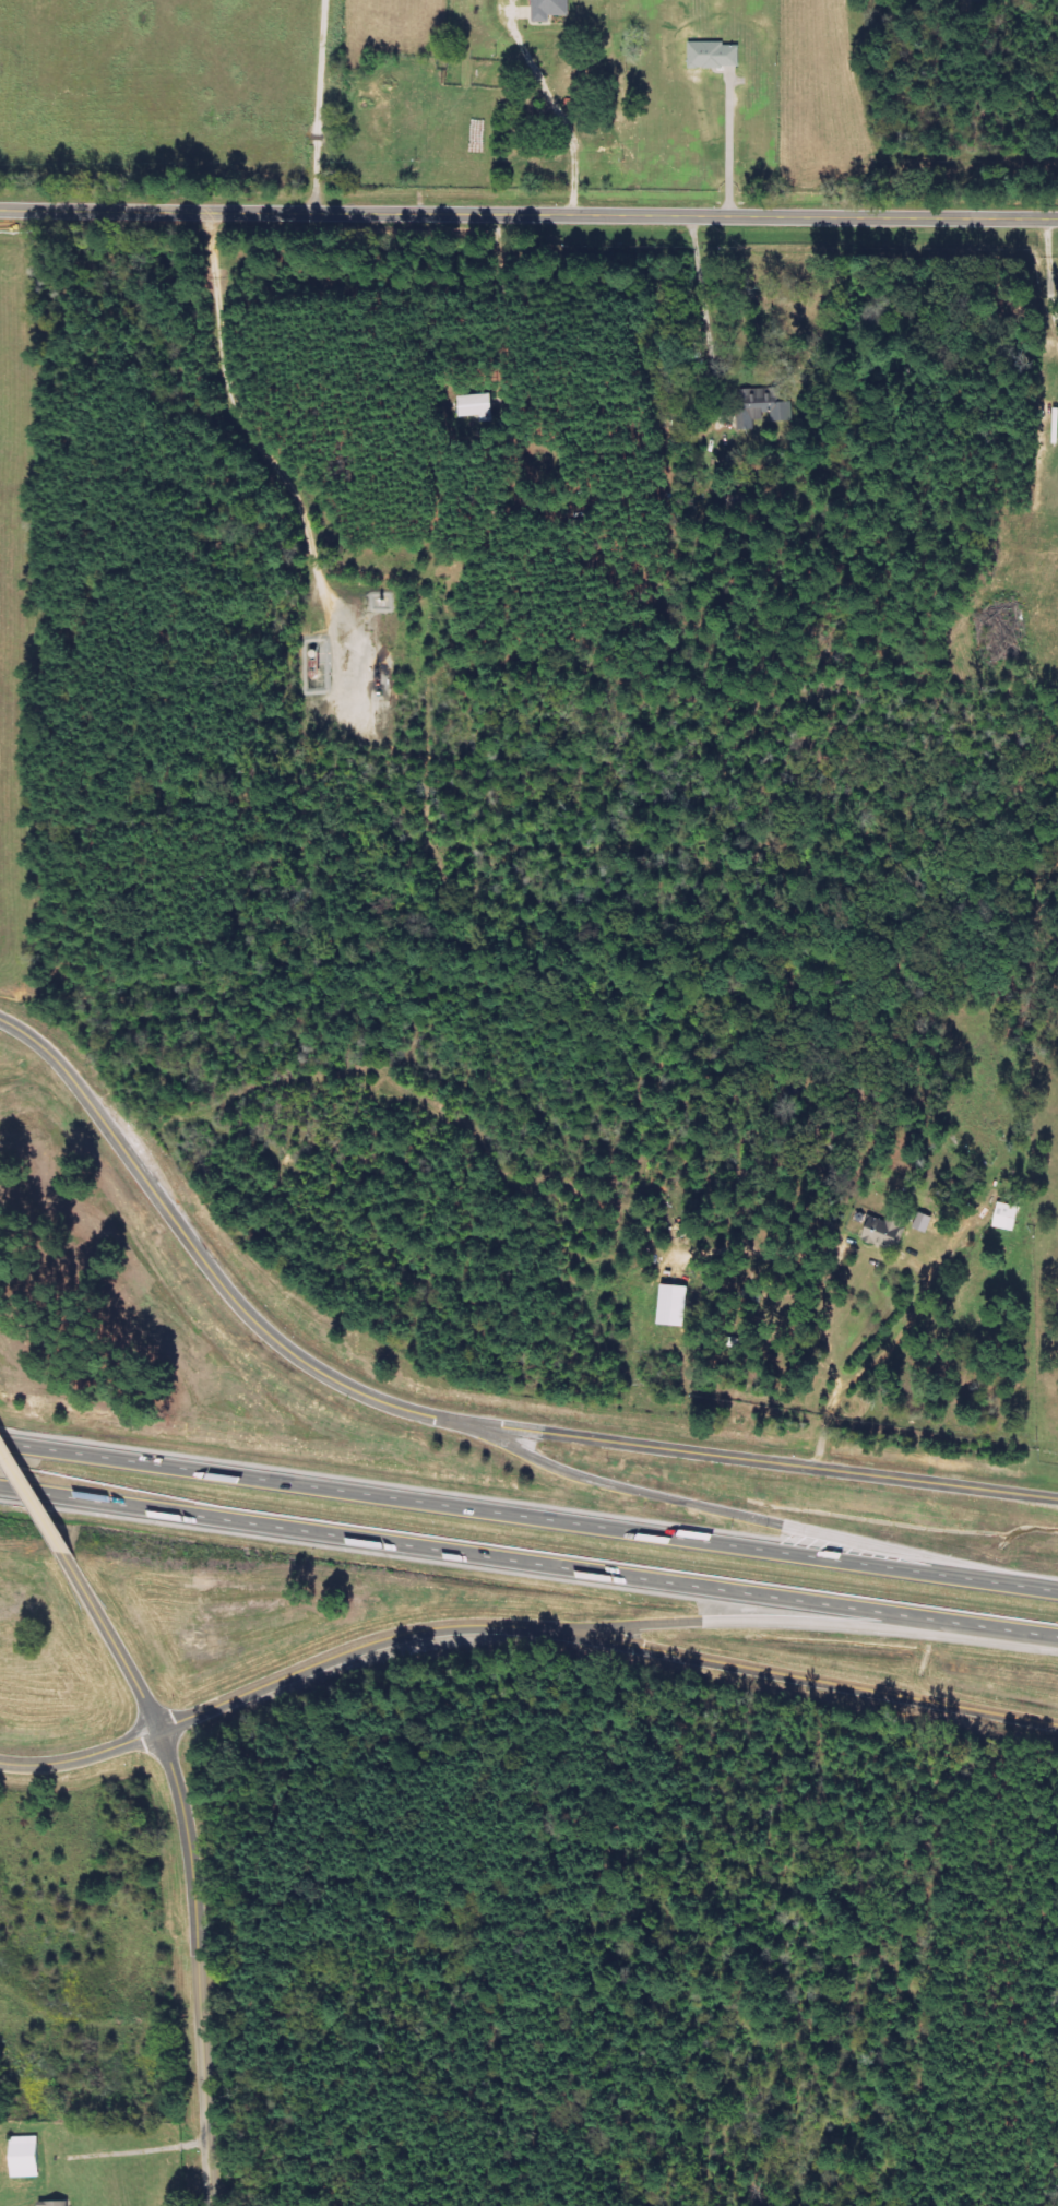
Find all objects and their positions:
building: (548, 9)
building: (713, 55)
road: (557, 106)
road: (528, 213)
road: (1051, 271)
building: (472, 405)
building: (757, 411)
building: (1006, 1215)
building: (922, 1222)
building: (883, 1233)
road: (202, 1257)
building: (673, 1304)
road: (760, 1460)
road: (33, 1495)
road: (528, 1516)
road: (756, 1517)
road: (528, 1564)
road: (793, 1621)
road: (112, 1639)
road: (793, 1675)
road: (261, 1685)
road: (195, 1965)
road: (139, 2148)
building: (24, 2156)
building: (52, 2203)

